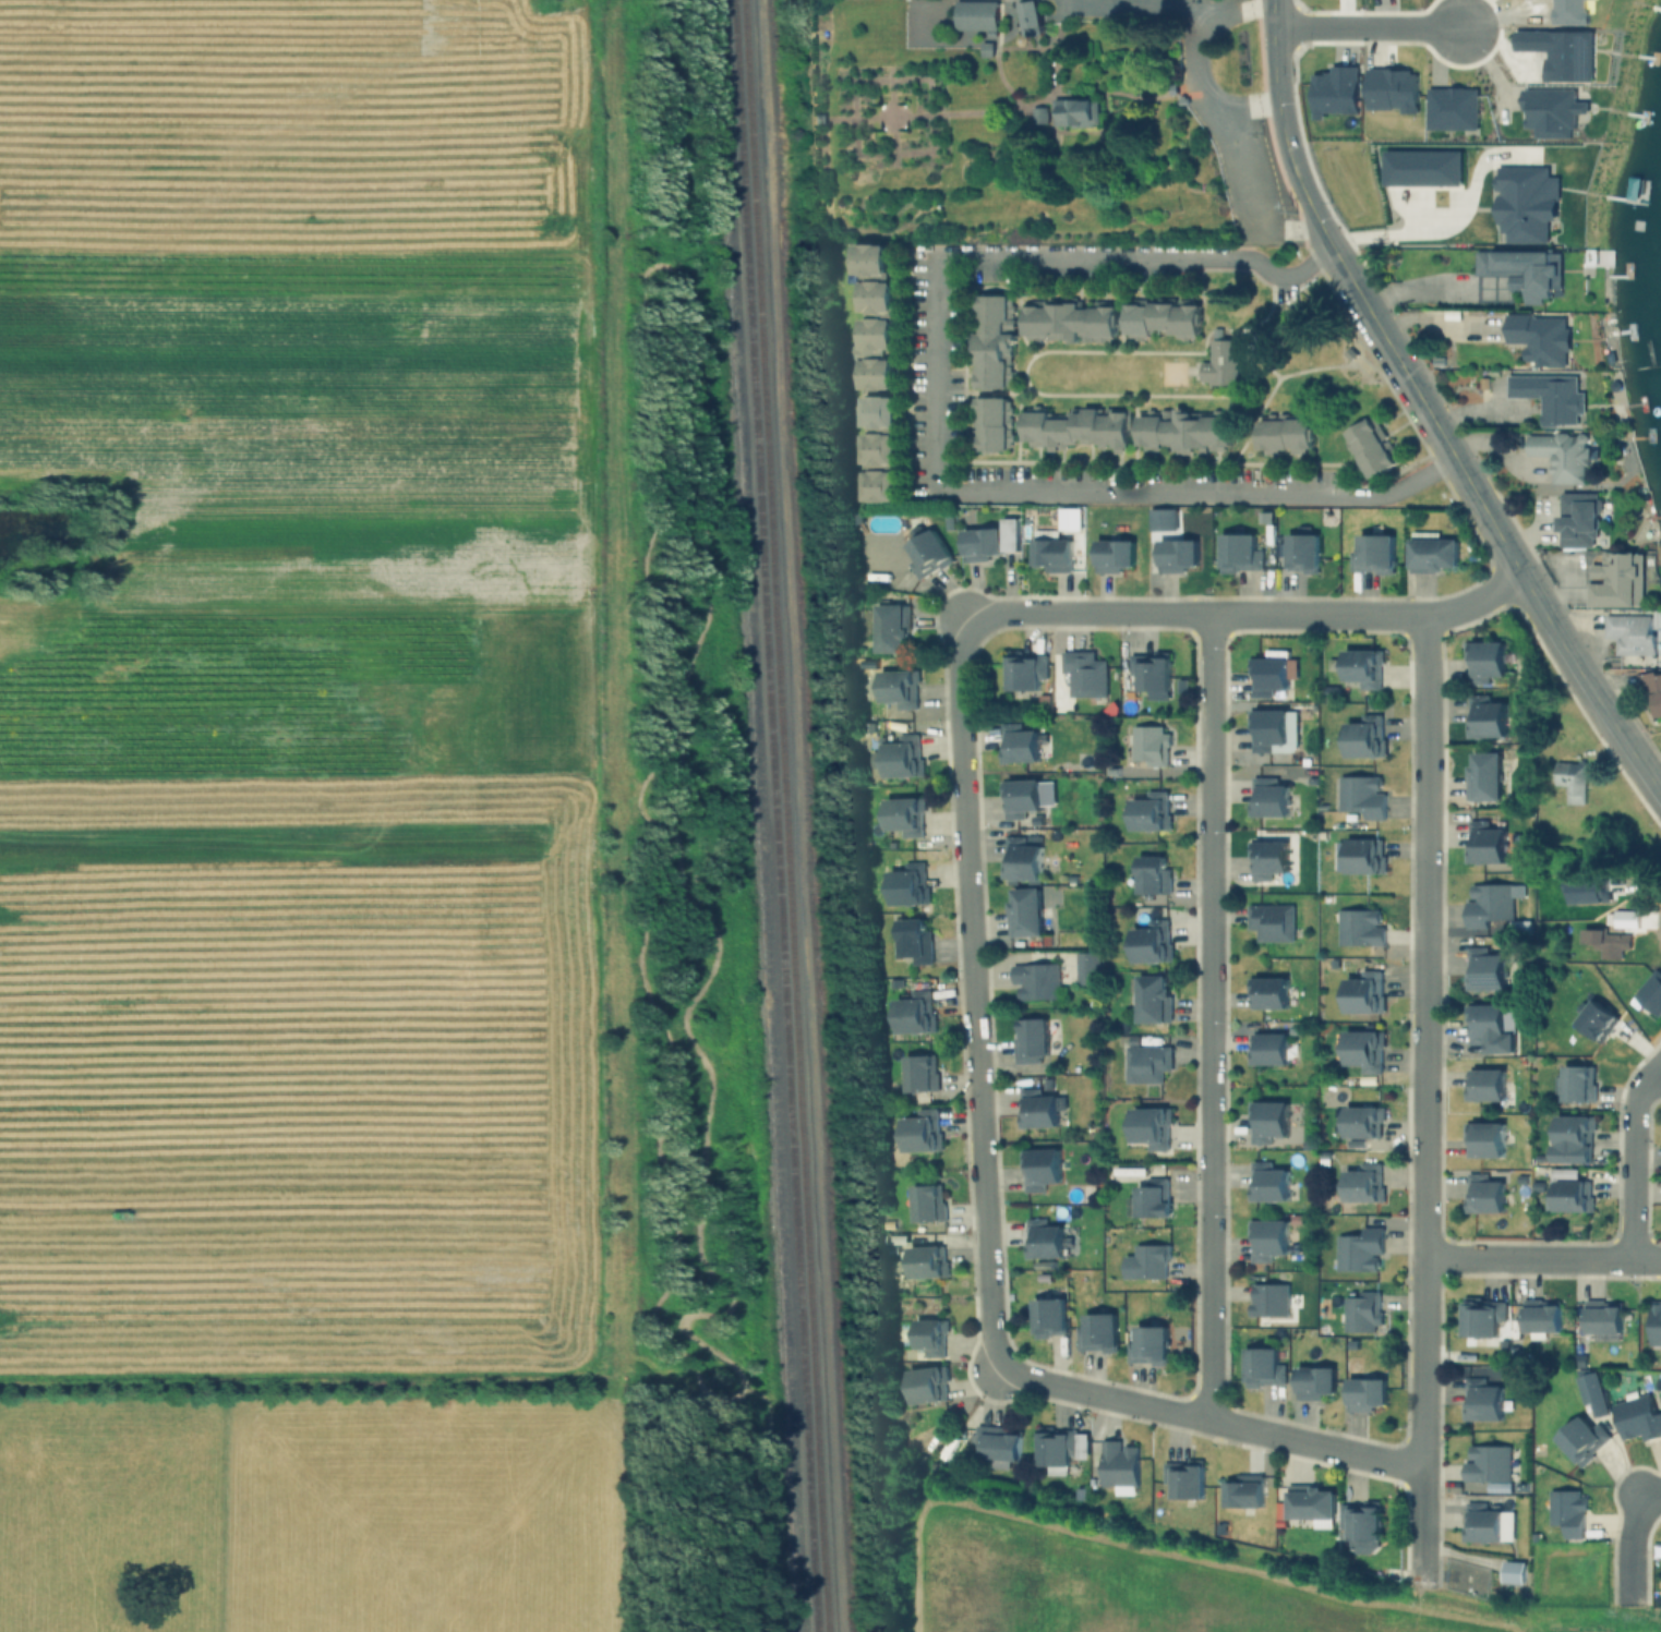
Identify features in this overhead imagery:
road: (1150, 5)
pier: (1656, 5)
building: (975, 16)
building: (1032, 20)
road: (998, 26)
road: (1368, 31)
water tower: (1037, 43)
road: (1025, 48)
building: (986, 49)
building: (1563, 55)
pier: (1646, 55)
pier: (1656, 57)
road: (1054, 64)
road: (1190, 64)
road: (1100, 77)
road: (1001, 80)
road: (1075, 92)
building: (1393, 92)
road: (1122, 93)
building: (1336, 93)
building: (1076, 110)
building: (1455, 112)
building: (1551, 112)
pier: (1634, 112)
building: (1037, 113)
pier: (1645, 113)
road: (925, 114)
road: (891, 116)
road: (1068, 126)
road: (891, 132)
road: (1046, 145)
road: (930, 148)
road: (1288, 152)
road: (1028, 157)
road: (1243, 159)
road: (1114, 164)
road: (1058, 167)
building: (1424, 170)
parking lot: (1256, 196)
pier: (1634, 198)
building: (1527, 204)
road: (841, 210)
road: (881, 216)
road: (922, 219)
road: (1448, 229)
road: (1150, 258)
building: (871, 261)
pier: (1645, 264)
building: (1525, 271)
road: (1423, 288)
building: (877, 299)
building: (1162, 316)
building: (1069, 319)
pier: (1633, 330)
pier: (1621, 331)
building: (1538, 337)
building: (875, 338)
building: (991, 341)
building: (1350, 354)
building: (1221, 363)
pier: (1646, 365)
road: (936, 370)
park: (1107, 373)
building: (878, 376)
building: (1550, 397)
pier: (1642, 402)
pier: (1633, 403)
building: (879, 415)
building: (991, 424)
building: (1076, 428)
building: (1182, 430)
building: (1285, 435)
pier: (1640, 435)
building: (1371, 449)
building: (880, 452)
road: (1451, 456)
building: (1561, 457)
building: (881, 487)
road: (1200, 494)
pier: (1652, 517)
building: (1577, 519)
building: (1162, 520)
building: (980, 544)
building: (1302, 551)
building: (1373, 552)
building: (927, 553)
building: (1238, 553)
building: (1431, 553)
building: (1052, 554)
building: (1114, 554)
building: (1176, 554)
pier: (1660, 577)
building: (1617, 580)
building: (889, 626)
building: (1630, 632)
building: (1483, 660)
building: (1363, 665)
building: (1025, 668)
building: (1151, 668)
building: (1084, 673)
building: (1266, 674)
building: (898, 686)
building: (1651, 687)
building: (1328, 690)
crop: (297, 693)
road: (1603, 708)
building: (1484, 715)
building: (1267, 727)
building: (1363, 735)
building: (1018, 742)
building: (1150, 745)
building: (902, 755)
building: (1483, 776)
building: (1570, 781)
building: (1360, 795)
building: (1020, 796)
building: (1267, 797)
building: (1151, 810)
building: (904, 814)
railway: (768, 815)
railway: (783, 815)
building: (1483, 843)
building: (1364, 855)
building: (1021, 858)
building: (1267, 858)
building: (1153, 874)
building: (907, 884)
building: (1488, 903)
building: (1024, 912)
building: (1624, 919)
building: (1272, 920)
building: (1360, 926)
road: (967, 927)
building: (1603, 938)
building: (914, 940)
building: (1152, 941)
building: (1086, 968)
building: (1484, 969)
building: (1035, 980)
building: (1364, 990)
building: (1267, 991)
building: (1651, 996)
building: (1152, 999)
building: (914, 1012)
road: (1208, 1016)
building: (1597, 1023)
building: (1488, 1027)
building: (1028, 1039)
building: (1268, 1048)
building: (1364, 1048)
building: (1145, 1063)
building: (919, 1072)
building: (1575, 1083)
building: (1484, 1084)
road: (1423, 1096)
building: (1036, 1109)
building: (1267, 1119)
building: (1362, 1121)
building: (1150, 1125)
building: (920, 1129)
building: (1572, 1137)
building: (1484, 1138)
road: (1628, 1160)
building: (1039, 1168)
building: (1267, 1182)
building: (1363, 1183)
building: (1482, 1195)
building: (1570, 1195)
building: (1153, 1198)
building: (926, 1202)
building: (1267, 1237)
building: (1044, 1238)
building: (1358, 1249)
road: (1542, 1259)
building: (926, 1260)
building: (1146, 1260)
building: (1268, 1298)
building: (1361, 1311)
building: (1540, 1315)
building: (1481, 1316)
building: (1602, 1316)
building: (1048, 1318)
building: (1654, 1321)
building: (1097, 1332)
building: (929, 1335)
building: (1150, 1345)
building: (1579, 1359)
building: (1263, 1366)
building: (1314, 1381)
building: (927, 1385)
building: (1590, 1391)
building: (1365, 1392)
building: (1481, 1401)
building: (1637, 1416)
building: (1582, 1439)
building: (997, 1443)
building: (1055, 1446)
building: (1118, 1463)
building: (1487, 1463)
building: (1183, 1477)
building: (1243, 1490)
building: (1309, 1501)
crop: (302, 1507)
building: (1566, 1510)
building: (1481, 1523)
building: (1360, 1525)
road: (1628, 1534)
building: (1514, 1573)
crop: (1152, 1574)

